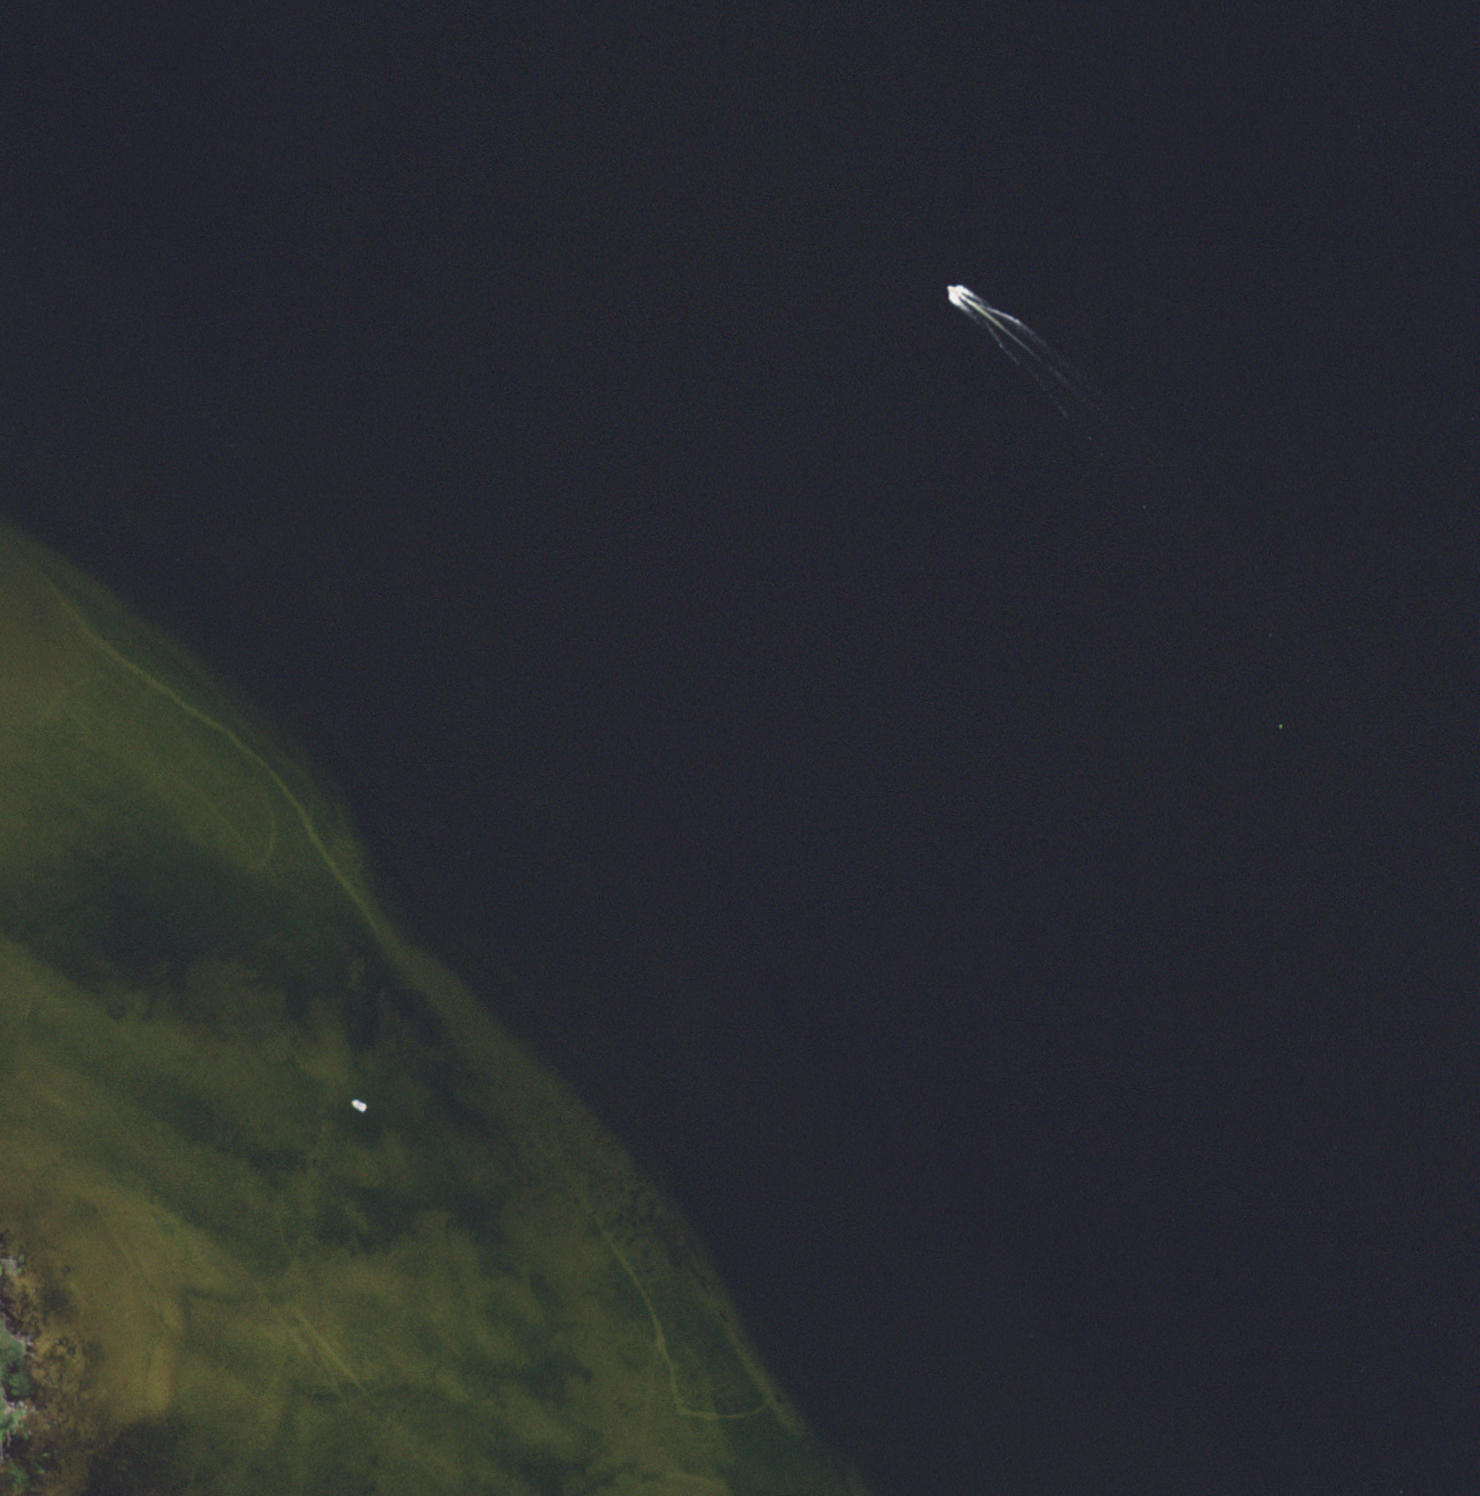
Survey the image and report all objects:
park: (27, 1342)

